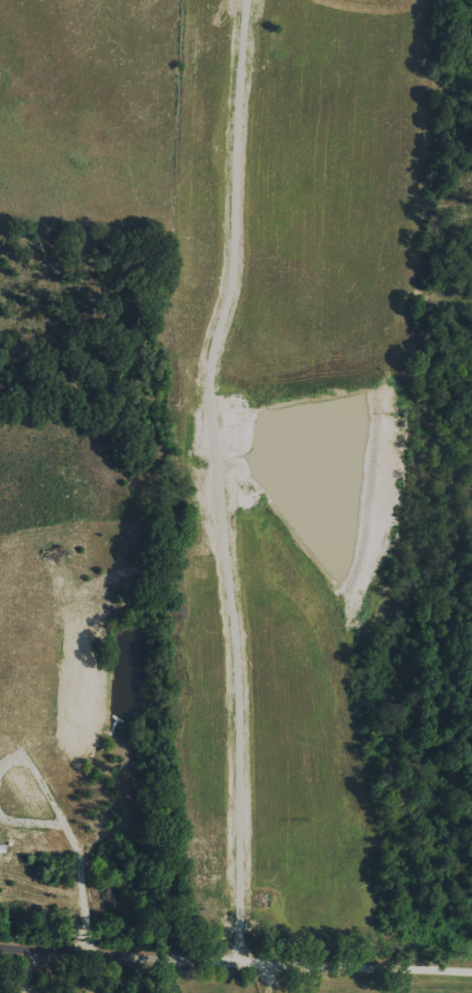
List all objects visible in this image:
road: (235, 963)
road: (28, 969)
road: (270, 980)

